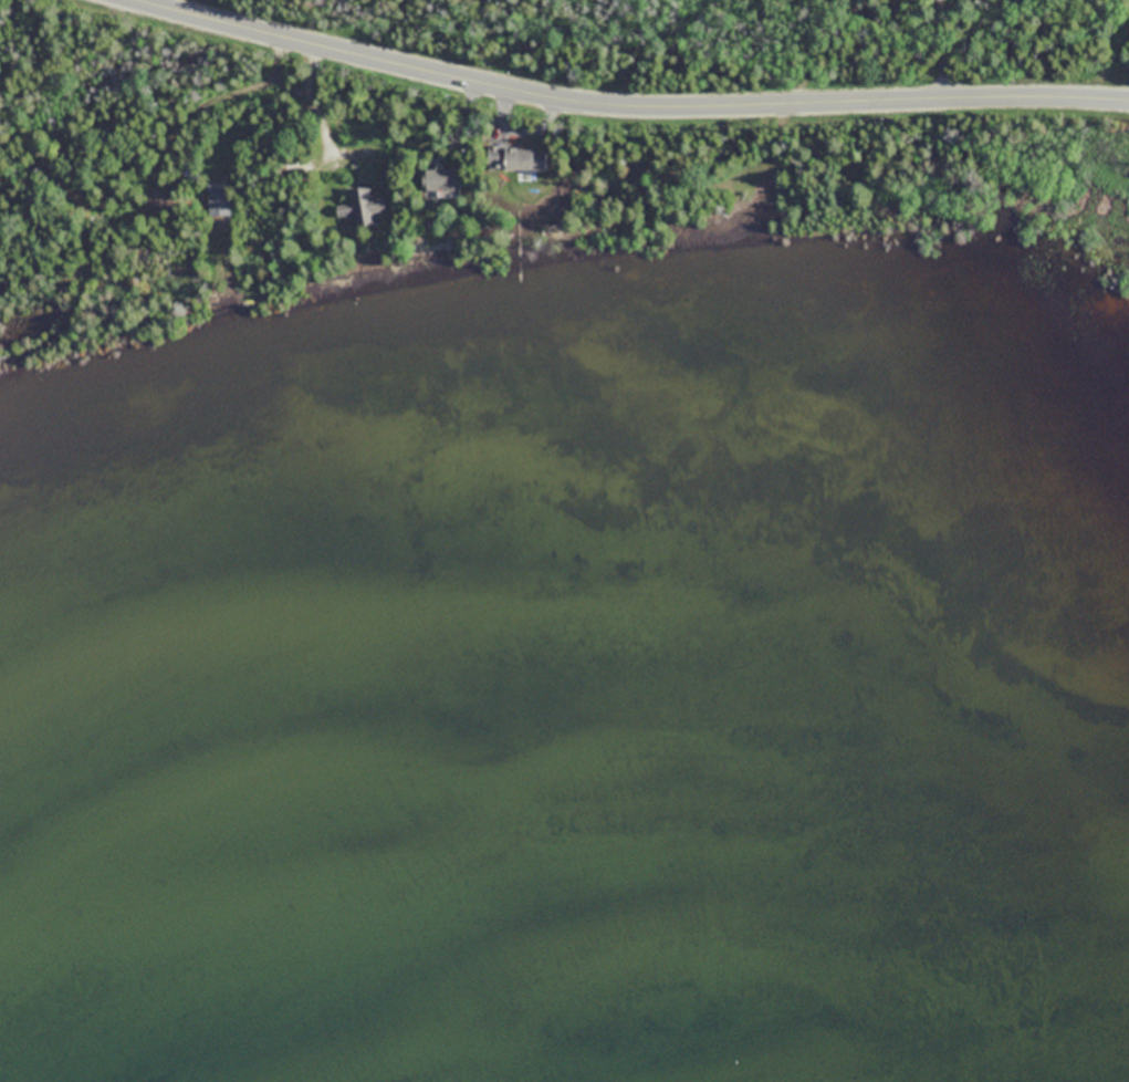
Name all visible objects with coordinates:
road: (931, 49)
road: (625, 110)
building: (510, 158)
building: (439, 178)
road: (165, 185)
building: (220, 196)
building: (365, 206)

